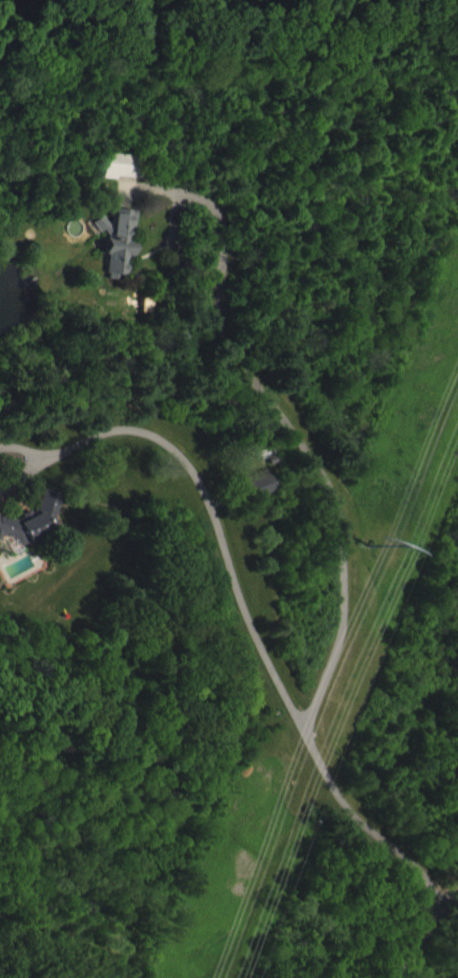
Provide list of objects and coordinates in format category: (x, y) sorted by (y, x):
building: (9, 3)
building: (122, 179)
road: (310, 461)
building: (263, 499)
road: (215, 520)
building: (35, 535)
road: (411, 868)
road: (451, 907)

